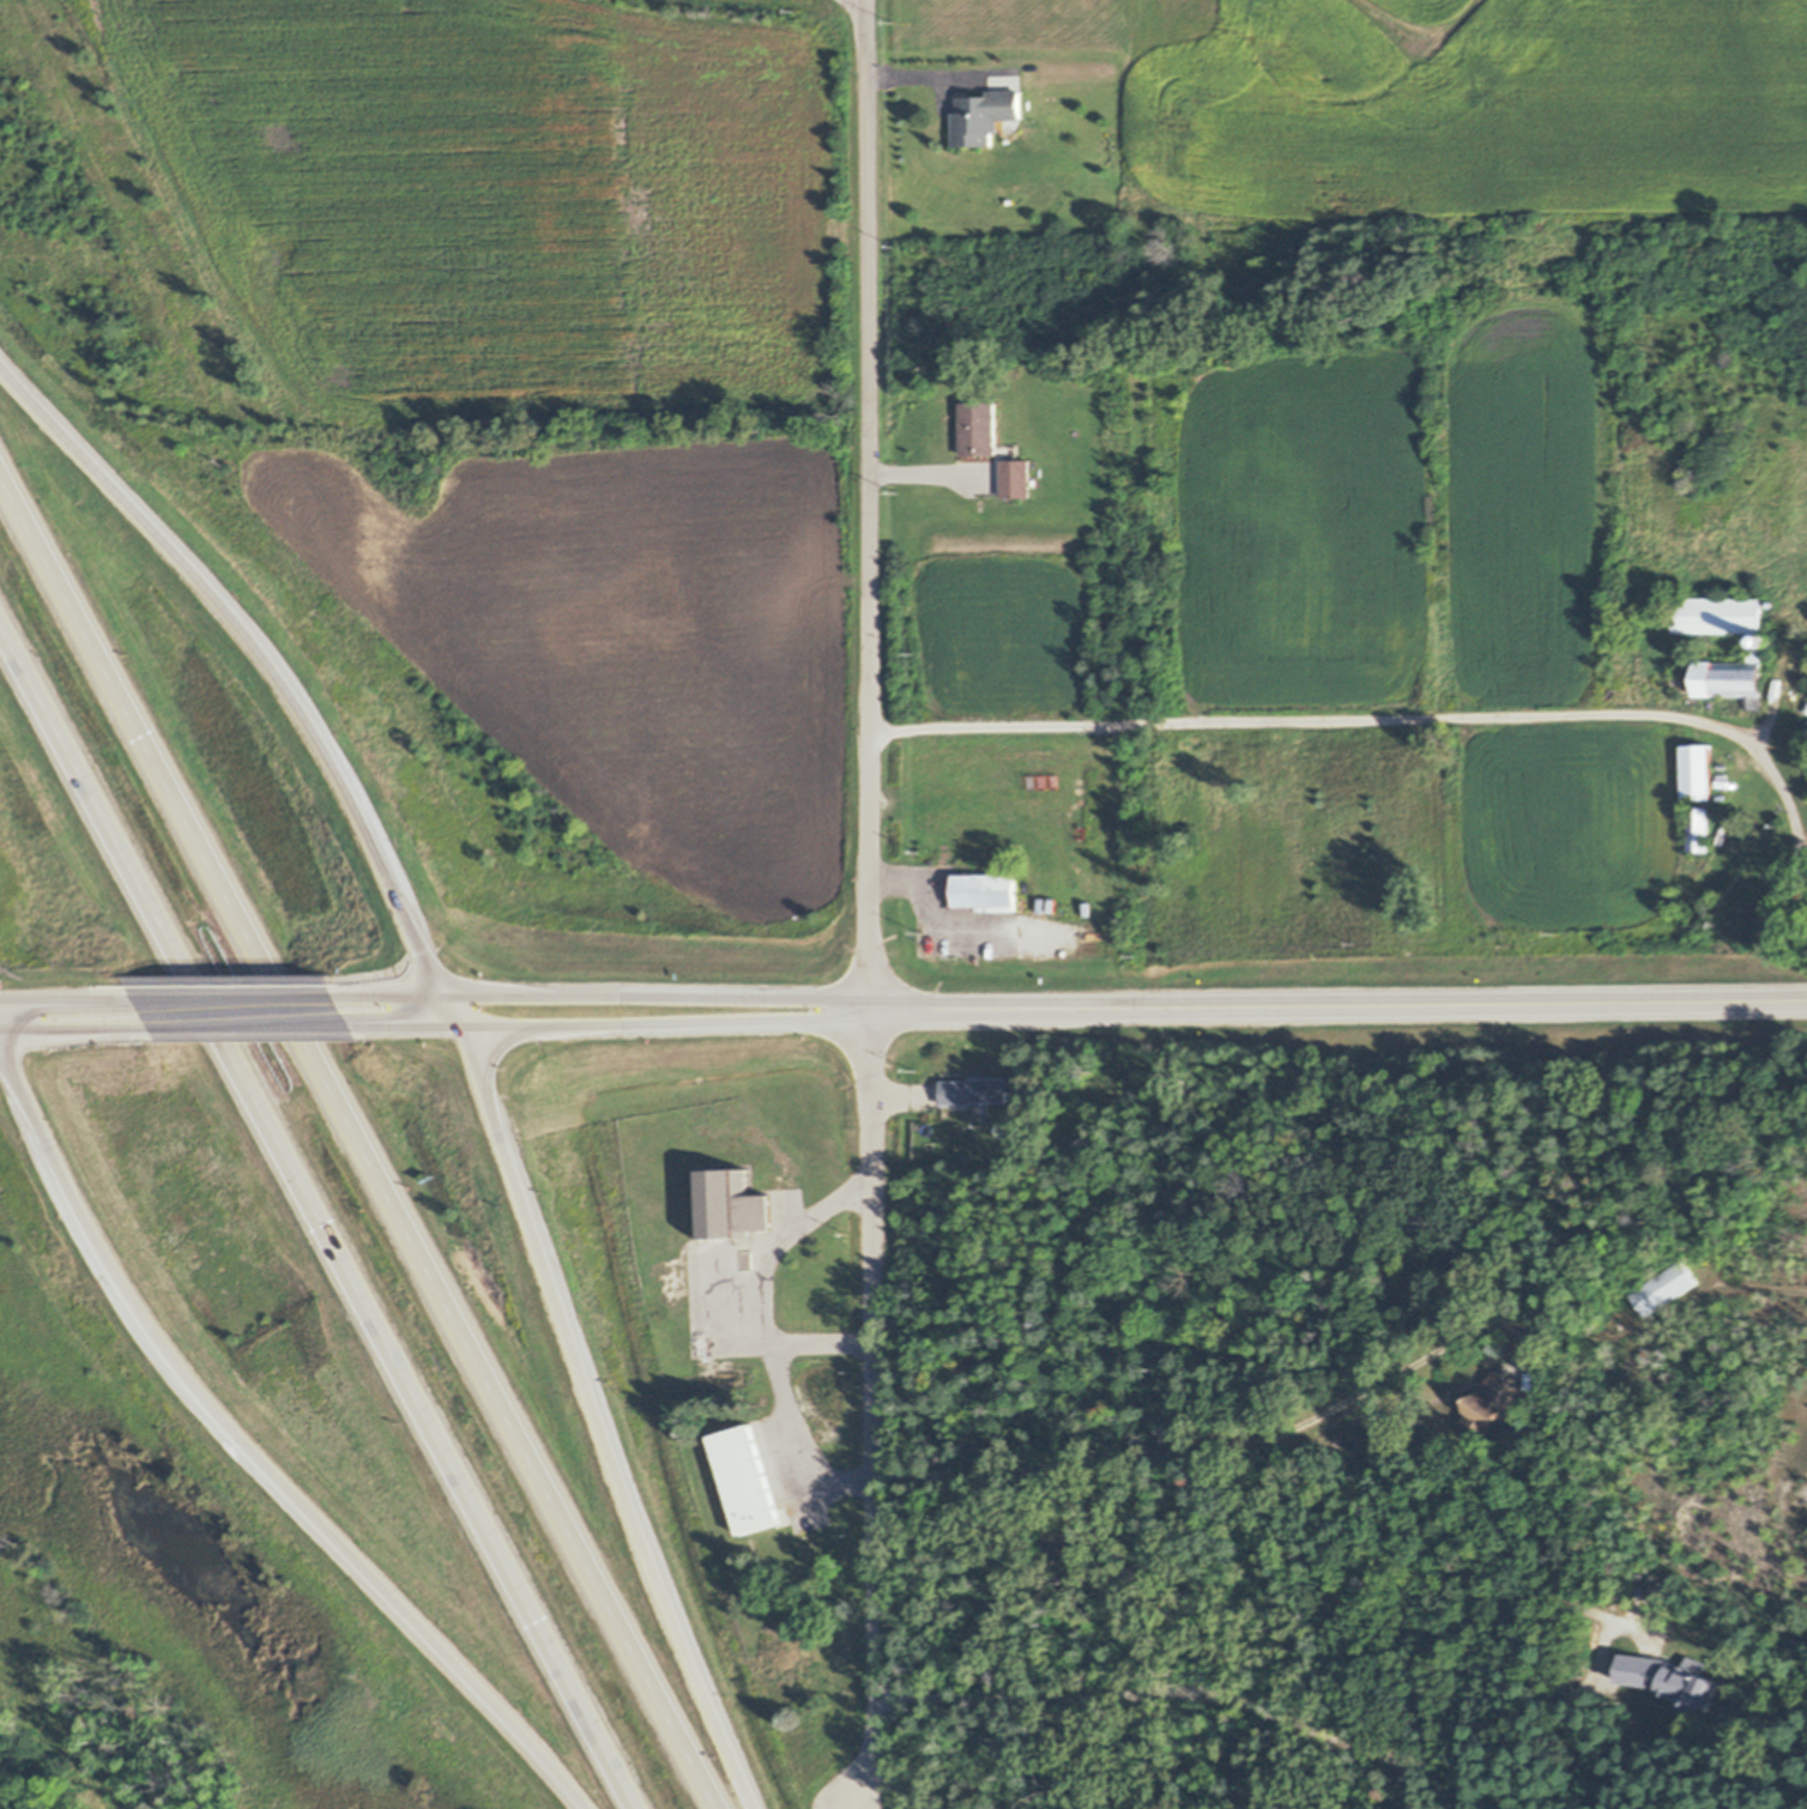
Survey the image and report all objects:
road: (941, 69)
building: (984, 117)
building: (1013, 125)
building: (1001, 127)
building: (1019, 361)
building: (978, 428)
building: (1005, 452)
building: (1014, 477)
road: (872, 504)
building: (1770, 605)
building: (1769, 645)
building: (1754, 647)
road: (276, 666)
road: (1383, 716)
building: (1697, 772)
building: (1699, 829)
building: (1086, 831)
building: (983, 891)
road: (606, 997)
road: (238, 1000)
road: (68, 1002)
road: (1341, 1005)
road: (615, 1024)
road: (254, 1028)
road: (77, 1031)
building: (977, 1090)
road: (359, 1137)
building: (731, 1206)
road: (319, 1217)
road: (775, 1233)
road: (1080, 1254)
building: (1667, 1288)
building: (1618, 1326)
road: (780, 1391)
building: (1493, 1405)
road: (876, 1411)
road: (602, 1421)
road: (1164, 1436)
road: (255, 1450)
building: (1355, 1459)
building: (744, 1477)
building: (1681, 1684)
road: (1361, 1746)

